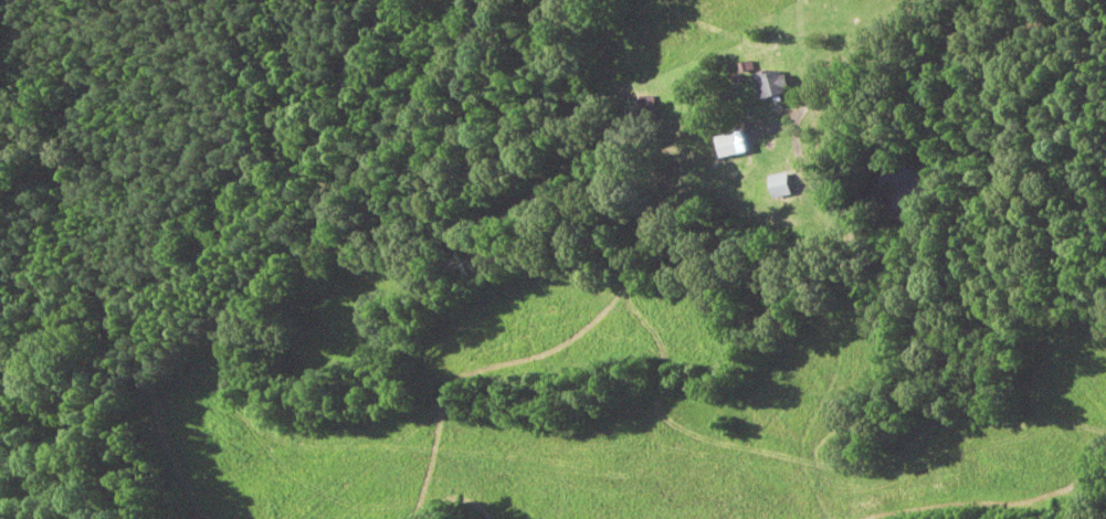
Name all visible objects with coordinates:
building: (771, 84)
building: (730, 145)
building: (779, 186)

